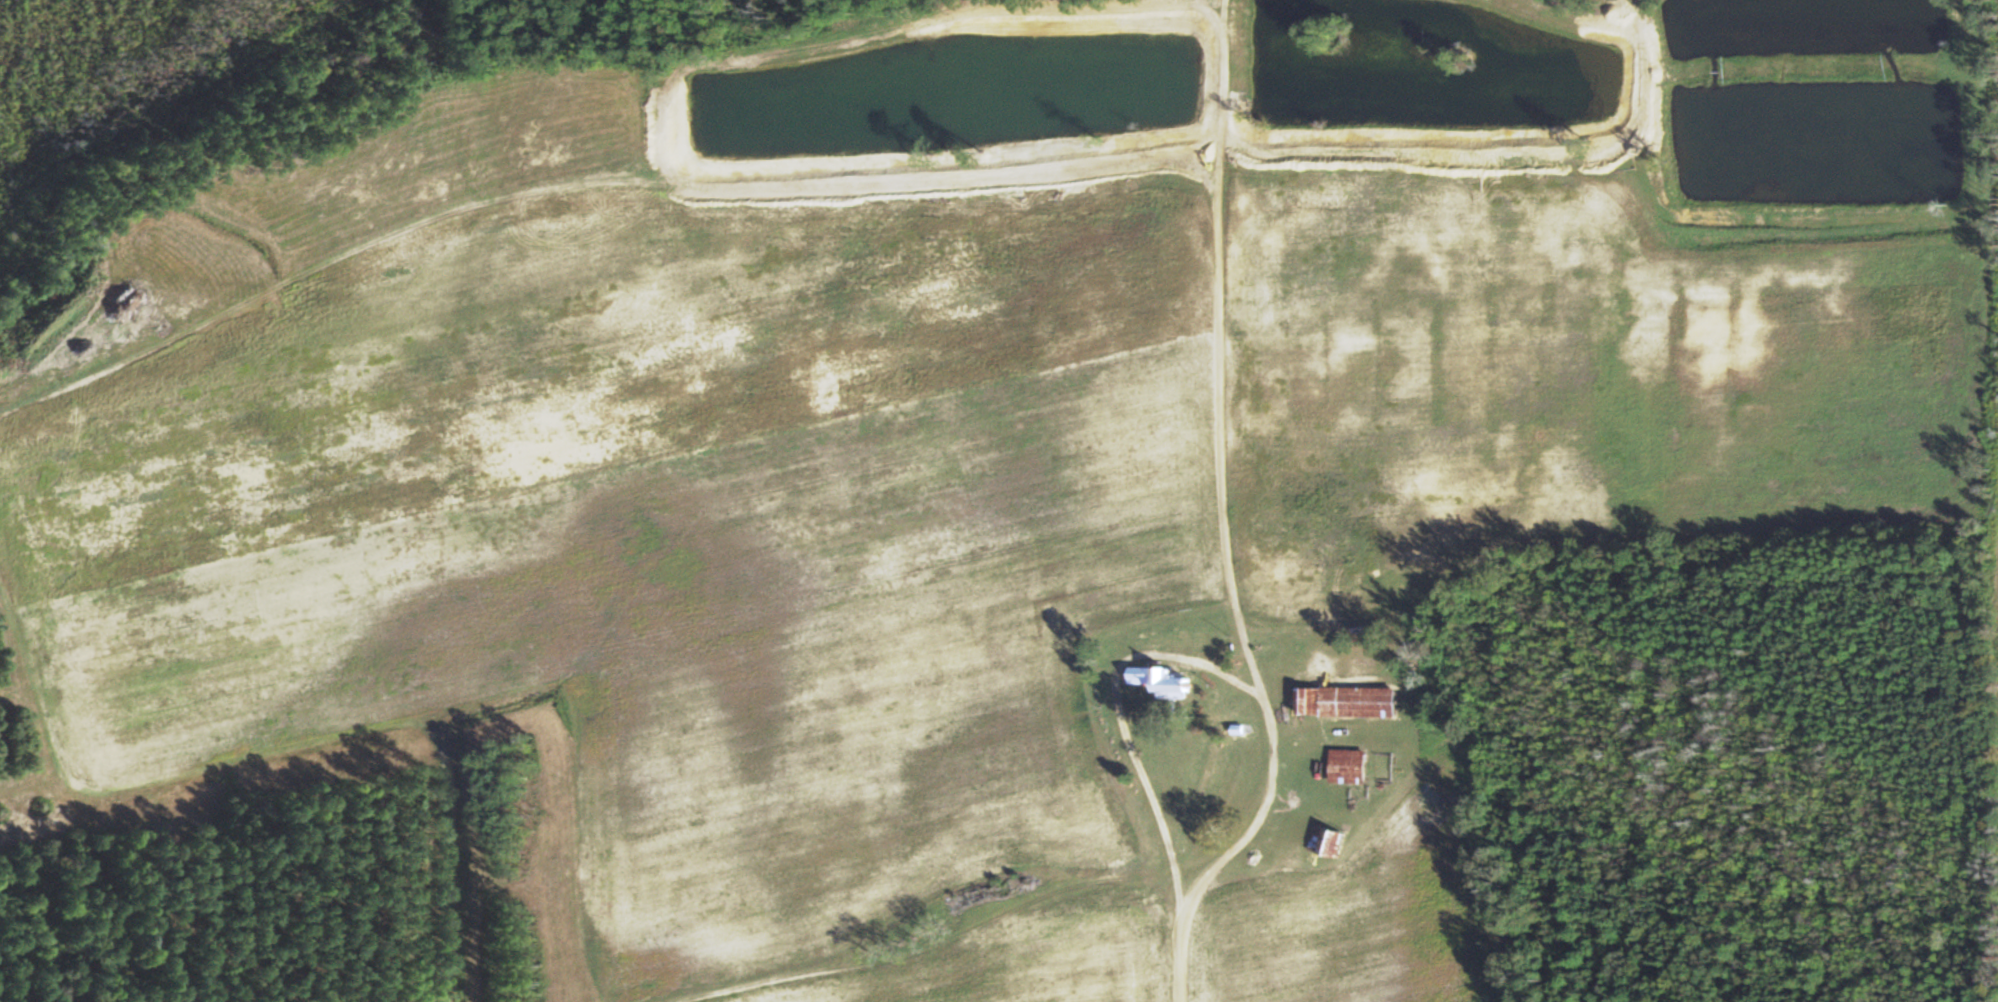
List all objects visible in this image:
road: (1585, 24)
road: (1648, 63)
road: (1226, 518)
building: (1158, 680)
building: (1345, 702)
road: (219, 764)
building: (1346, 767)
building: (1324, 842)
building: (980, 895)

